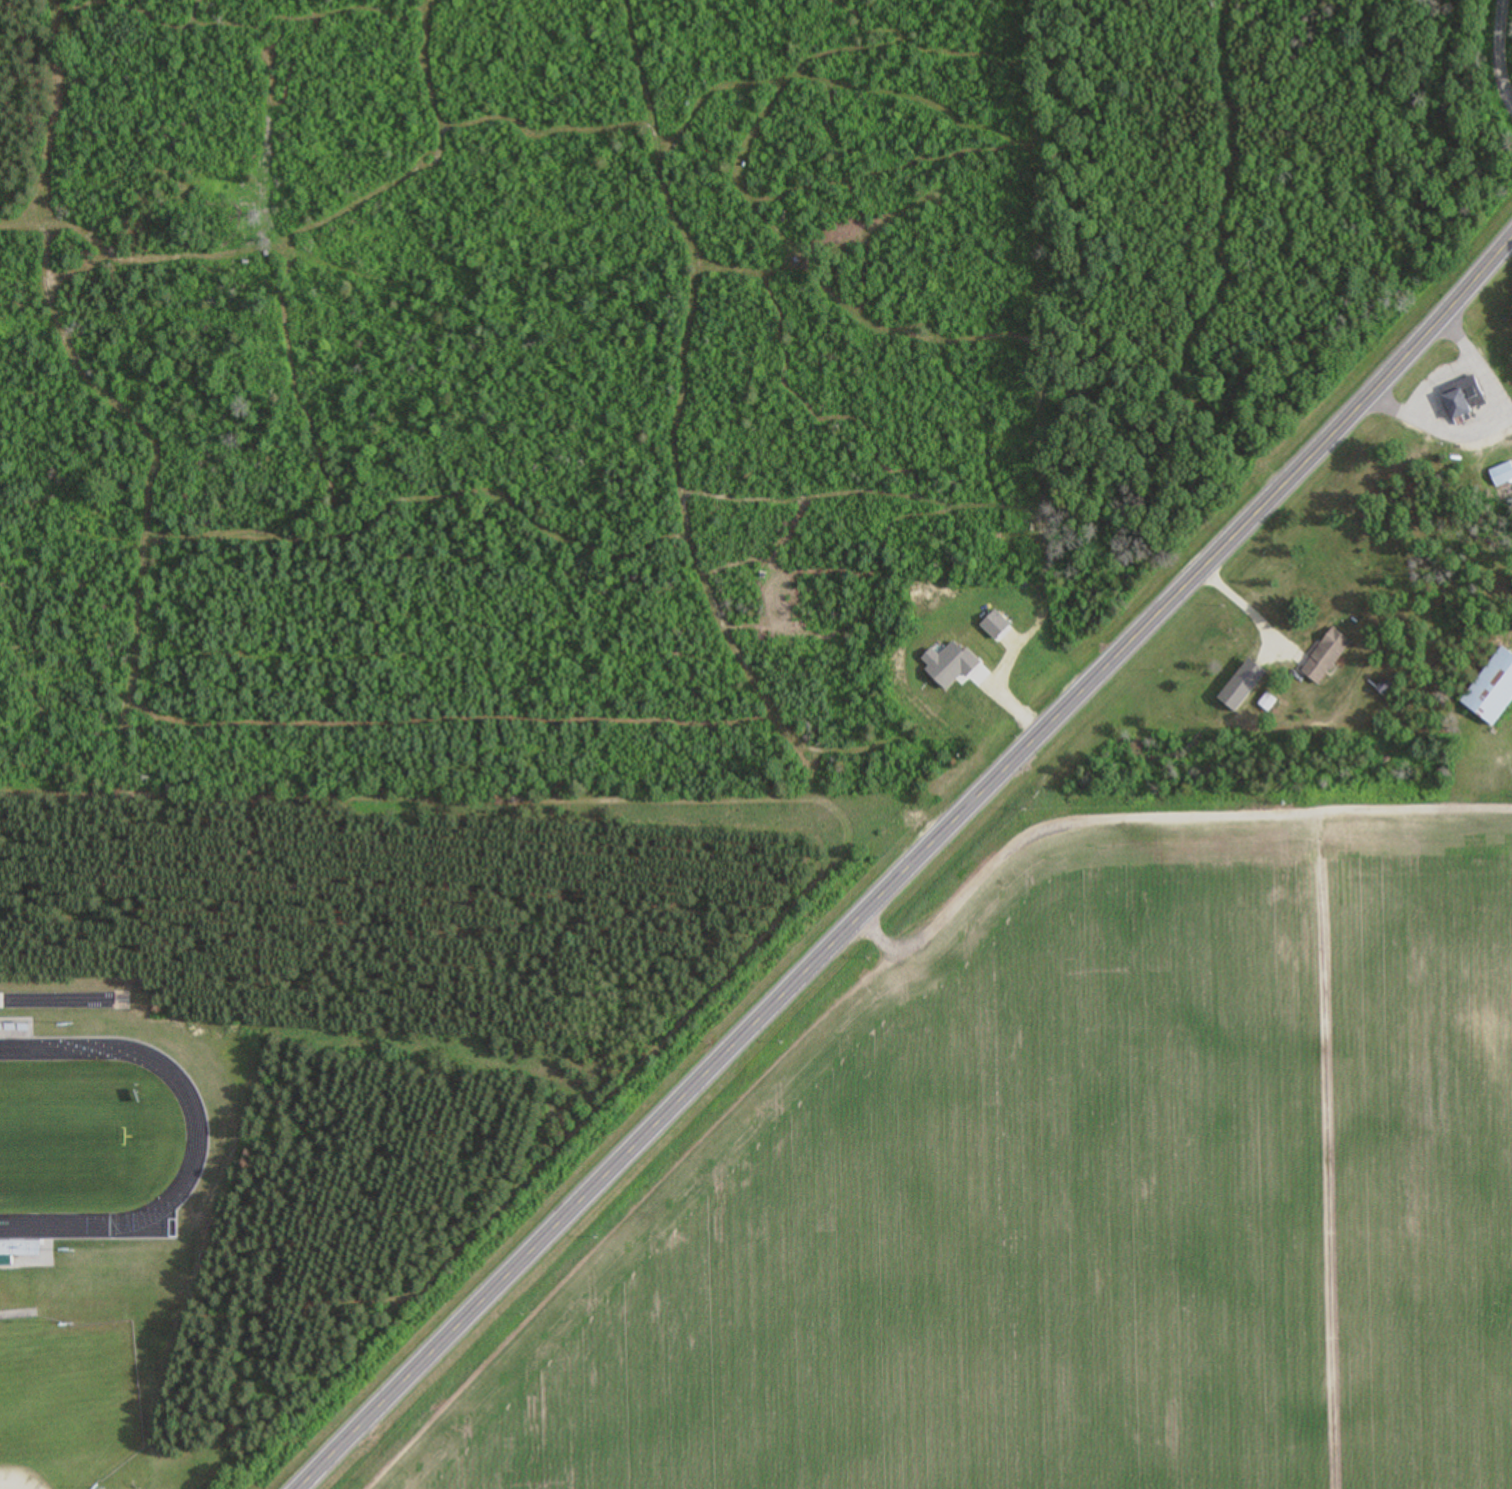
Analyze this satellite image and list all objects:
road: (1470, 290)
road: (1470, 380)
building: (1463, 398)
building: (1502, 475)
building: (1326, 656)
building: (1242, 685)
building: (1492, 689)
road: (469, 799)
road: (863, 911)
park: (79, 1149)
track: (89, 1149)
building: (14, 1327)
park: (60, 1411)

